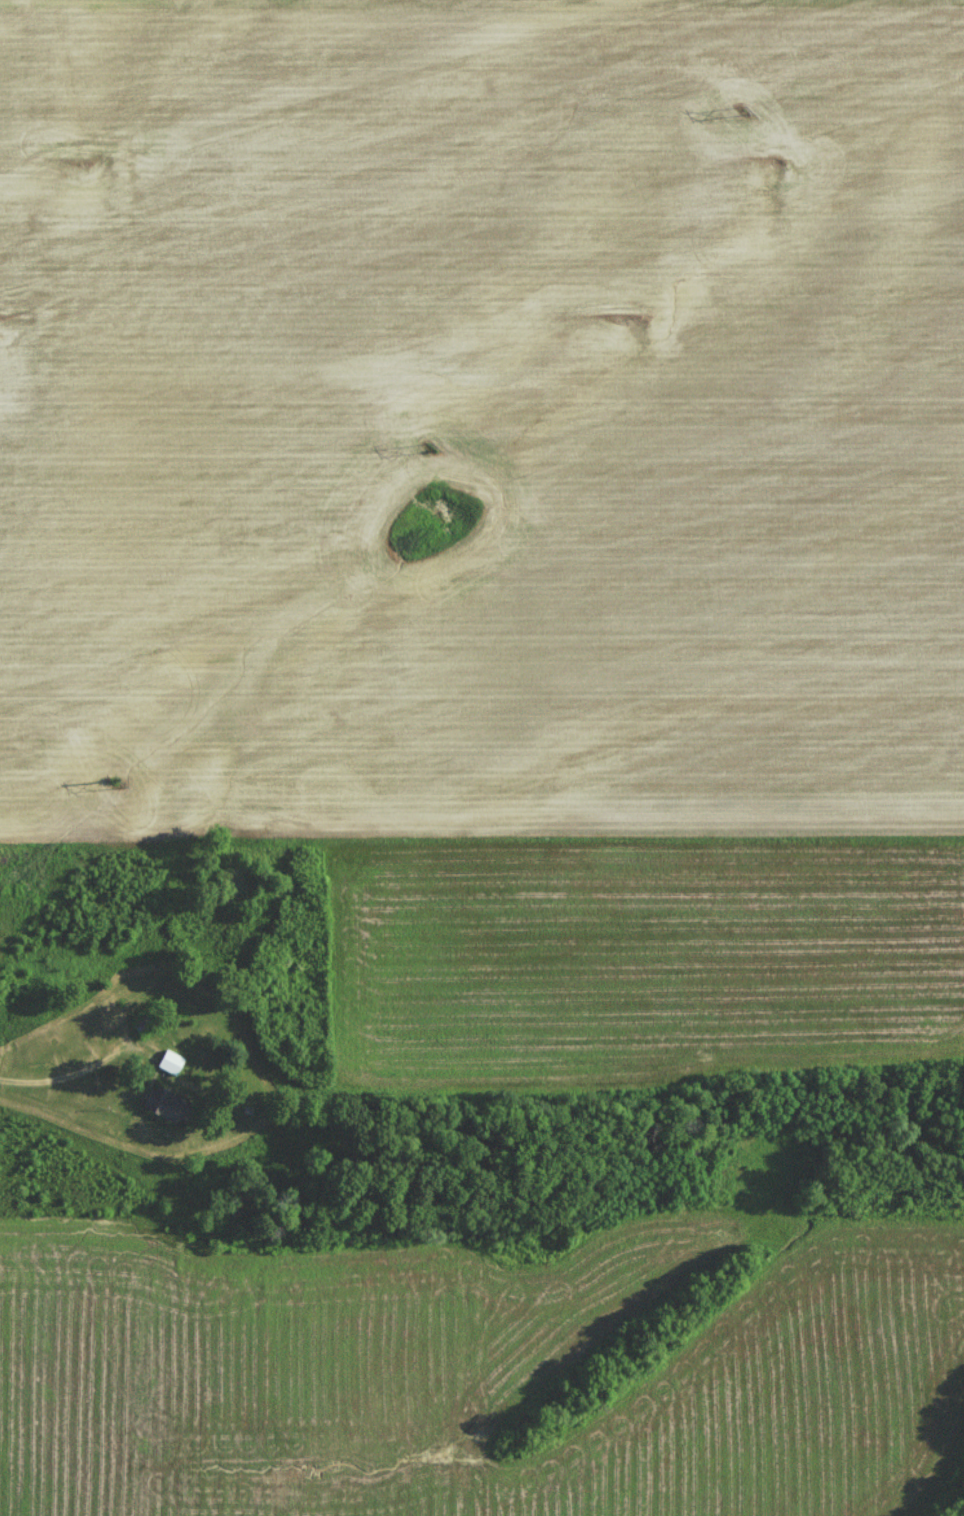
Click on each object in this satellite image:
building: (170, 1061)
road: (68, 1073)
building: (162, 1103)

